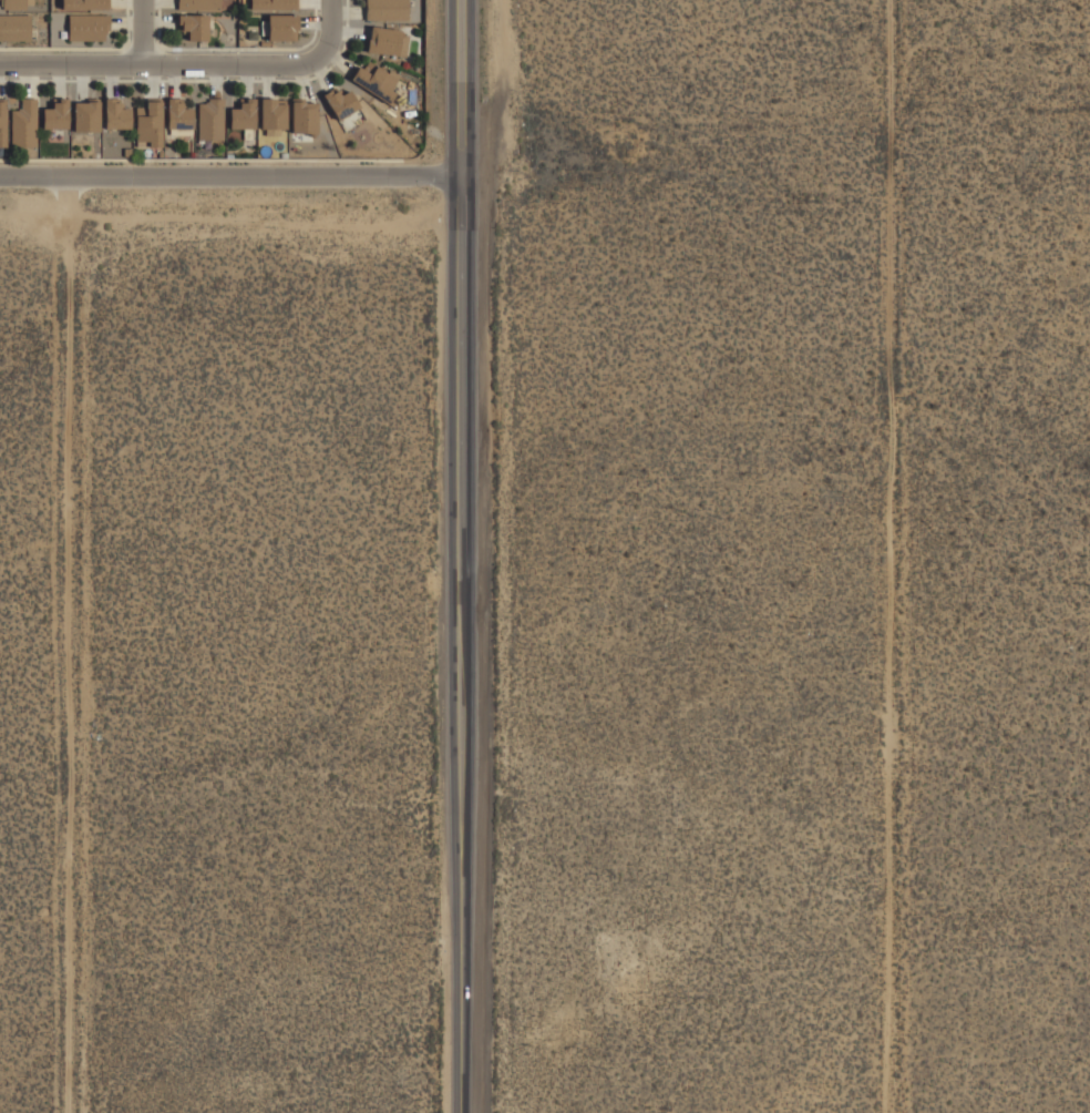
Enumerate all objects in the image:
building: (14, 3)
building: (83, 4)
building: (272, 4)
building: (385, 10)
building: (411, 10)
building: (195, 17)
building: (14, 27)
building: (86, 27)
building: (281, 27)
road: (142, 34)
building: (387, 41)
road: (194, 69)
building: (374, 80)
building: (342, 106)
building: (115, 114)
building: (55, 115)
building: (85, 115)
building: (243, 115)
building: (272, 115)
building: (304, 116)
building: (178, 118)
building: (210, 120)
building: (148, 122)
building: (24, 124)
building: (4, 125)
road: (229, 182)
road: (461, 555)

